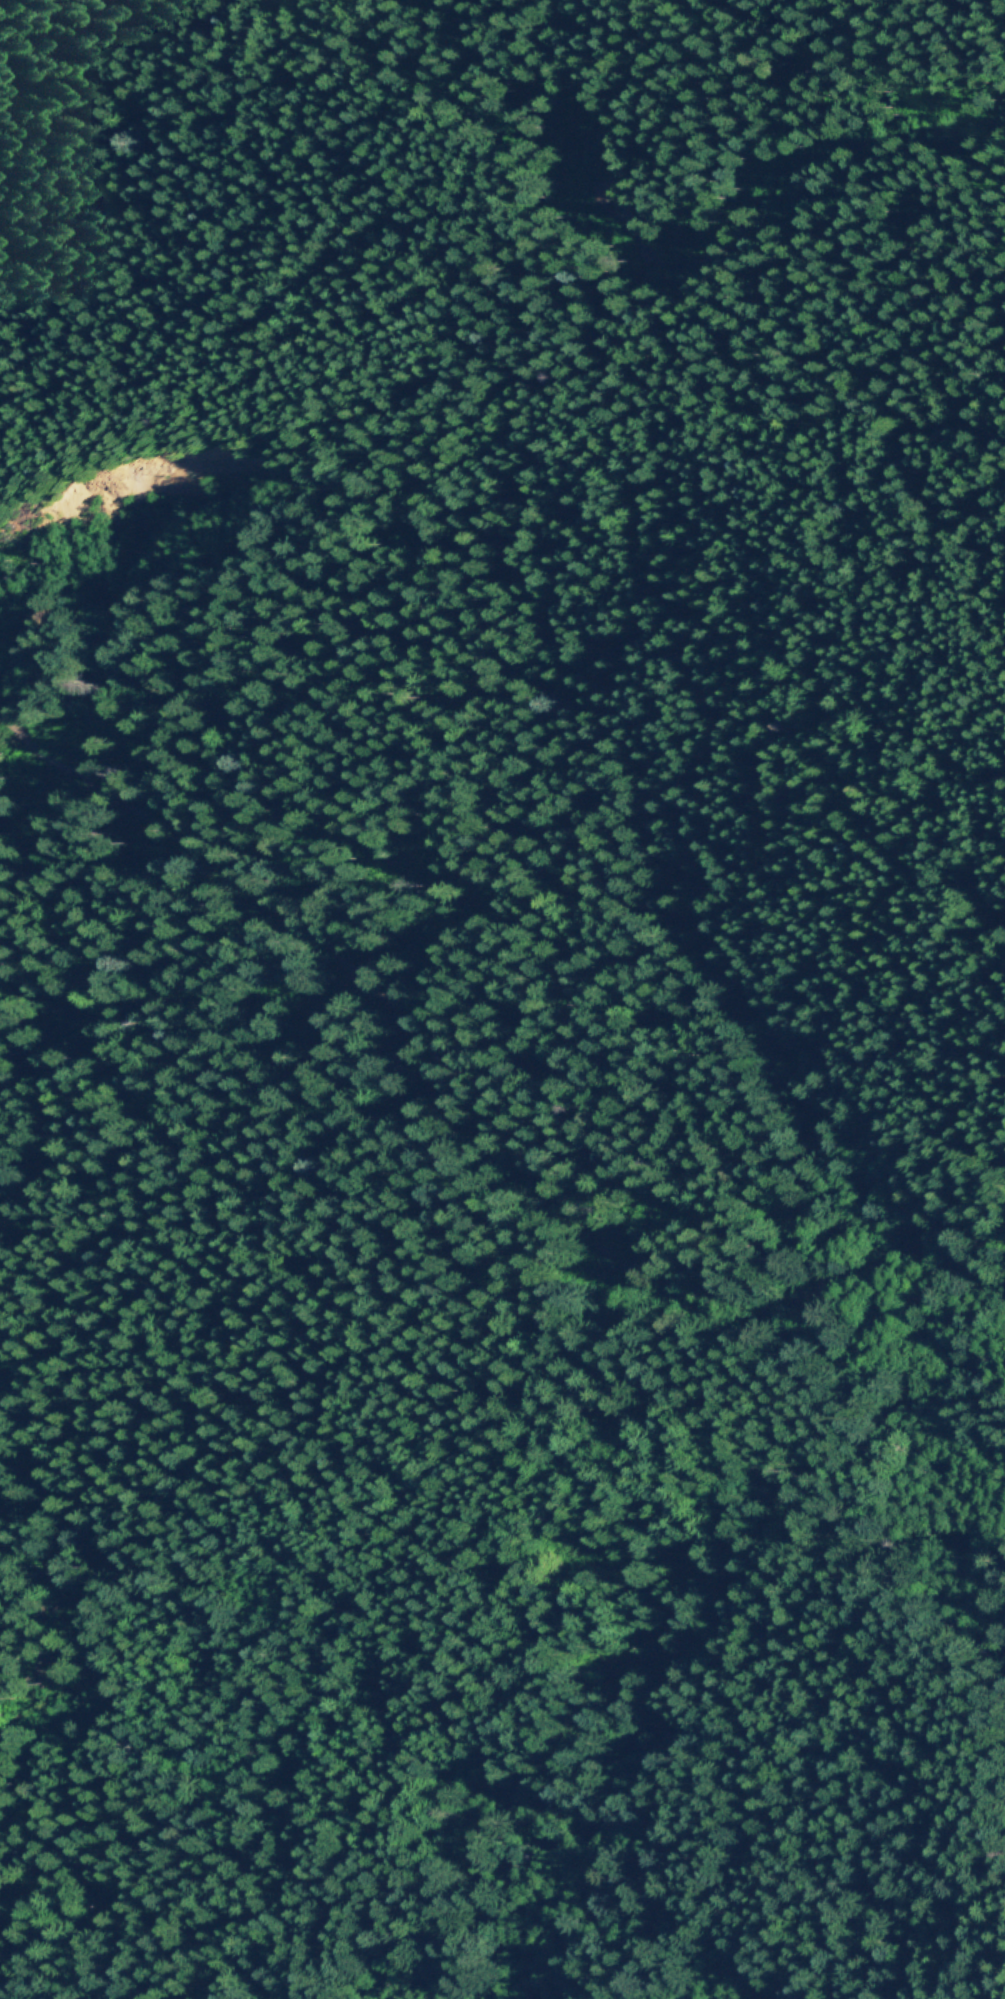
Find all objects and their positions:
road: (797, 163)
road: (468, 1133)

